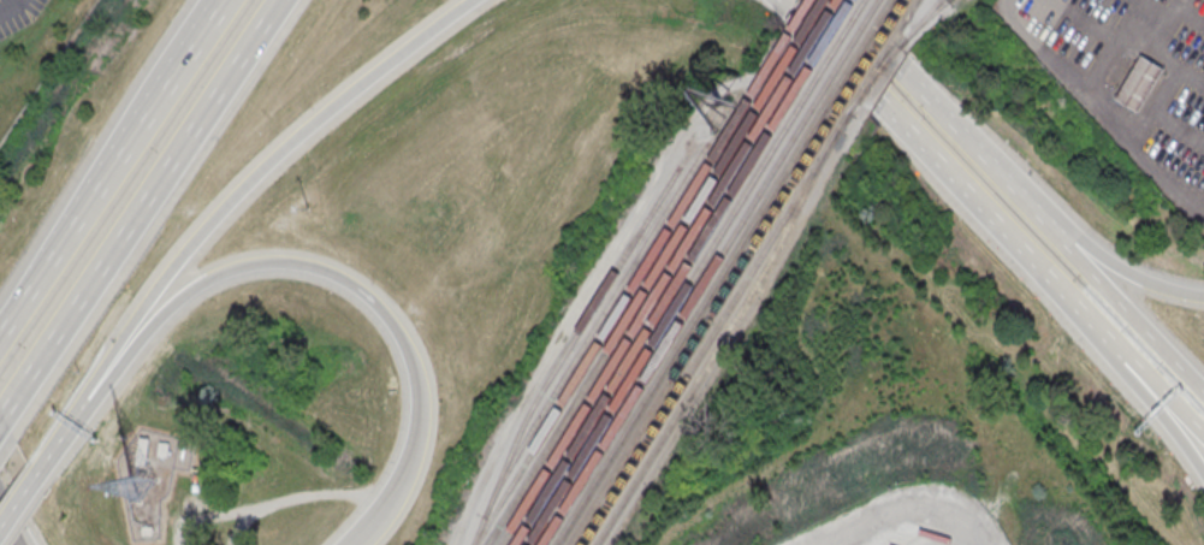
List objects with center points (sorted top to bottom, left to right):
railway: (903, 4)
railway: (913, 7)
railway: (927, 12)
railway: (931, 12)
railway: (794, 25)
railway: (805, 29)
railway: (817, 32)
railway: (908, 34)
railway: (828, 37)
railway: (838, 41)
railway: (849, 46)
railway: (861, 49)
railway: (870, 58)
railway: (888, 58)
railway: (878, 64)
parking lot: (1131, 77)
building: (1139, 83)
road: (926, 101)
road: (111, 167)
road: (255, 173)
road: (949, 178)
road: (141, 208)
street lamp: (308, 208)
road: (1109, 259)
road: (343, 283)
road: (1114, 295)
railway: (627, 297)
railway: (637, 301)
railway: (648, 306)
railway: (659, 309)
railway: (670, 314)
railway: (681, 318)
railway: (693, 322)
railway: (595, 325)
railway: (704, 326)
railway: (716, 328)
railway: (722, 339)
railway: (564, 353)
road: (1161, 401)
road: (1164, 415)
road: (0, 416)
road: (63, 437)
road: (16, 505)
road: (20, 505)
road: (905, 507)
road: (6, 533)
parking lot: (908, 537)
road: (354, 544)
road: (354, 544)

